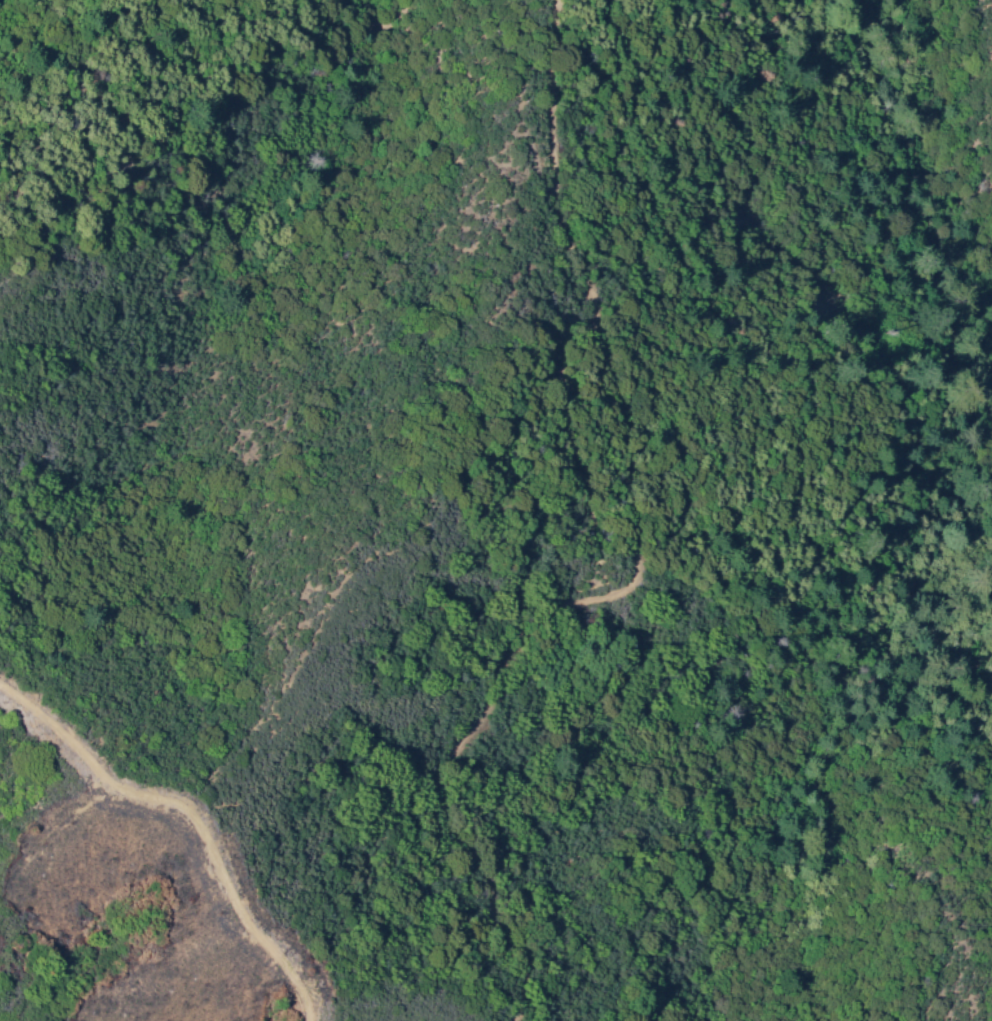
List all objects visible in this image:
road: (190, 822)

